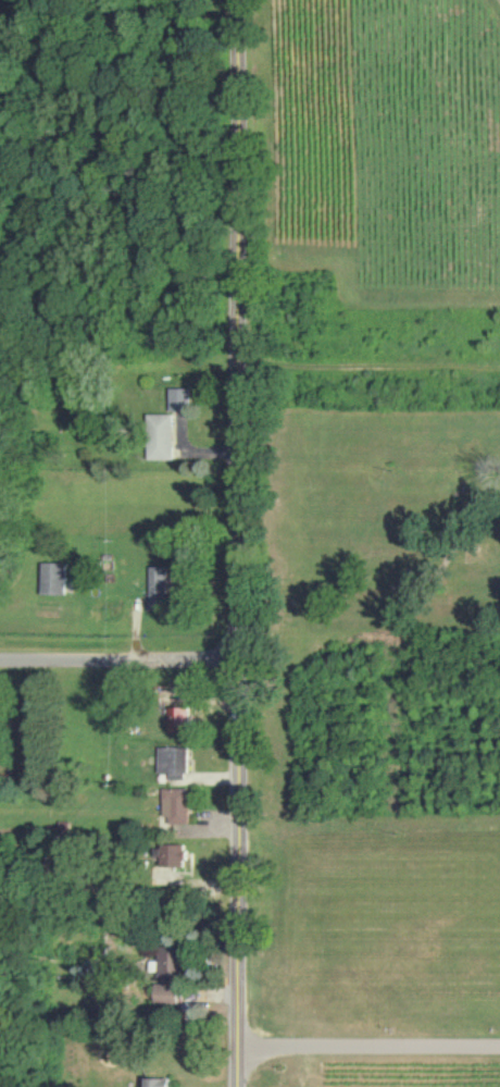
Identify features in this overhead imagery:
building: (178, 399)
building: (160, 437)
road: (239, 543)
building: (51, 579)
building: (159, 589)
road: (120, 666)
building: (172, 763)
building: (175, 806)
building: (172, 856)
building: (168, 978)
road: (371, 1049)
building: (159, 1082)

